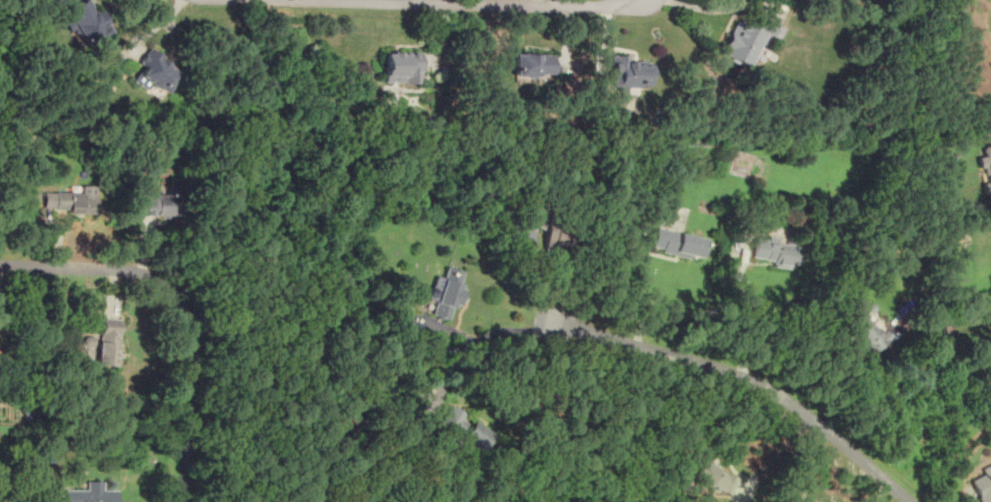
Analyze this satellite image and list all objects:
road: (474, 3)
road: (710, 8)
building: (86, 21)
building: (747, 39)
building: (533, 64)
building: (402, 67)
building: (628, 72)
building: (155, 73)
building: (988, 172)
building: (73, 199)
building: (157, 204)
building: (551, 240)
building: (677, 242)
building: (775, 251)
road: (524, 268)
road: (540, 271)
road: (642, 286)
building: (446, 292)
road: (180, 308)
road: (745, 309)
building: (866, 330)
road: (477, 340)
building: (90, 341)
building: (108, 342)
road: (743, 376)
road: (851, 386)
building: (464, 429)
building: (713, 476)
building: (982, 486)
building: (90, 493)
road: (50, 497)

